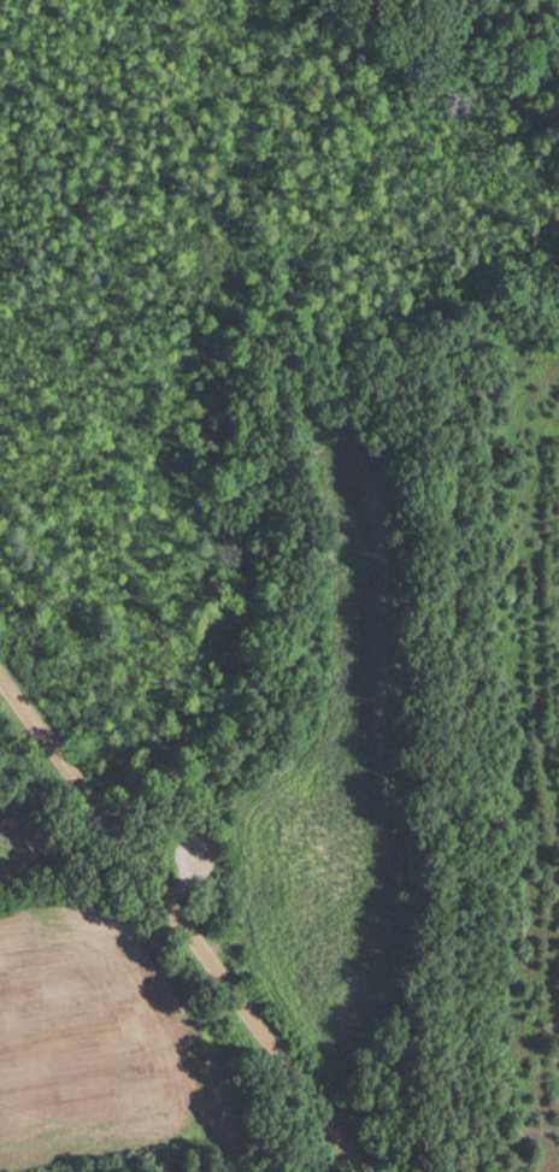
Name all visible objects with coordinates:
road: (183, 923)

